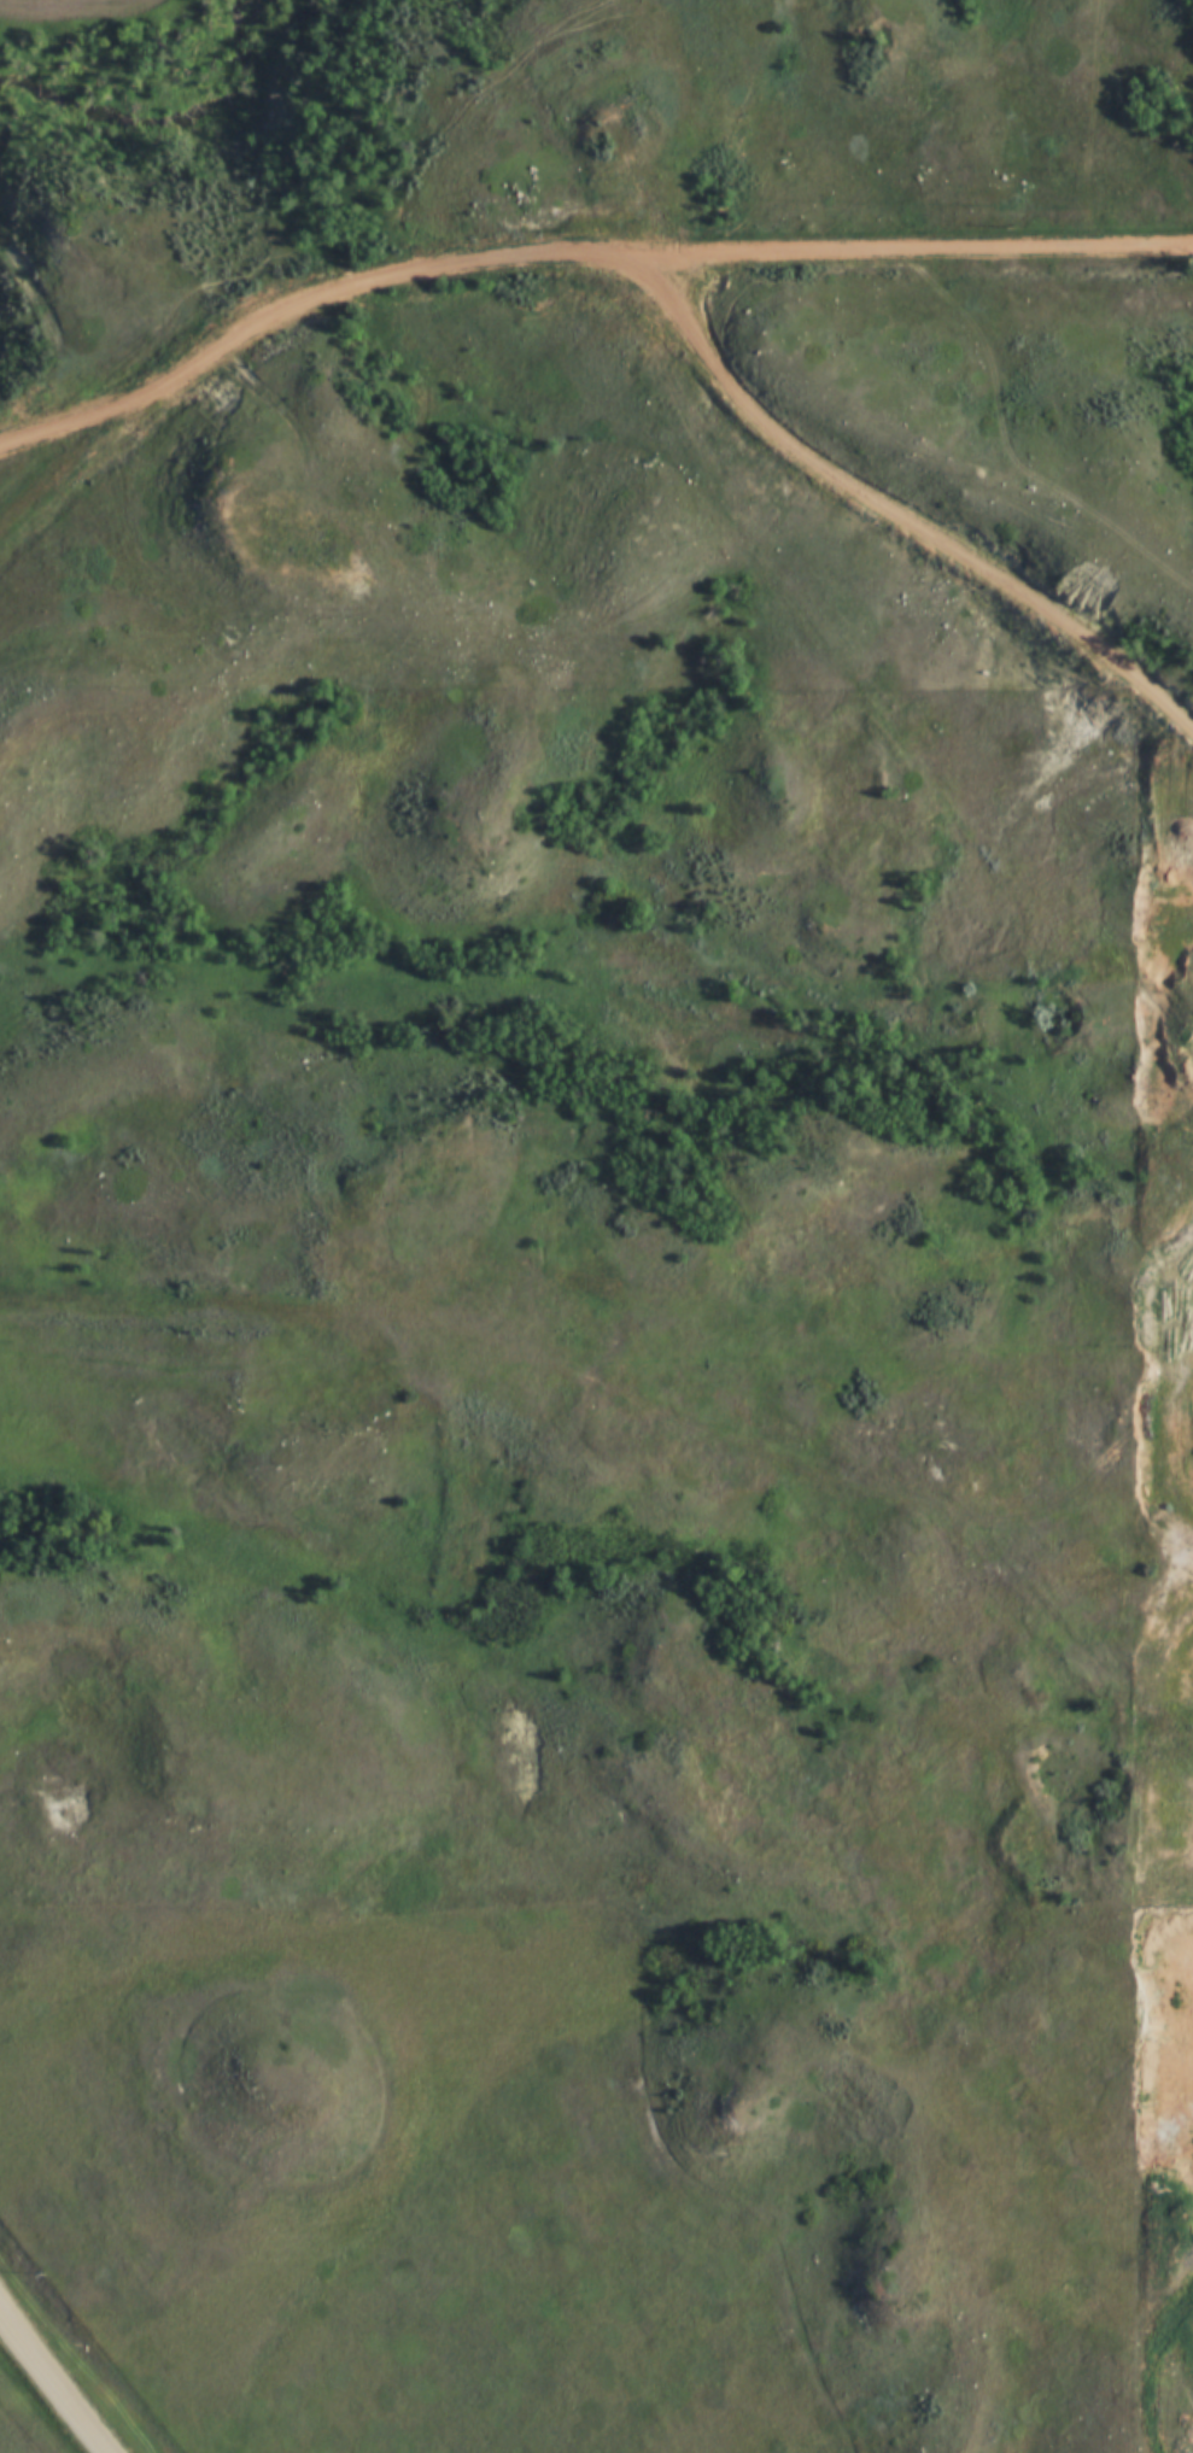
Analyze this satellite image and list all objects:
road: (555, 248)
road: (631, 1400)
quarry: (1166, 1429)
road: (52, 2384)

